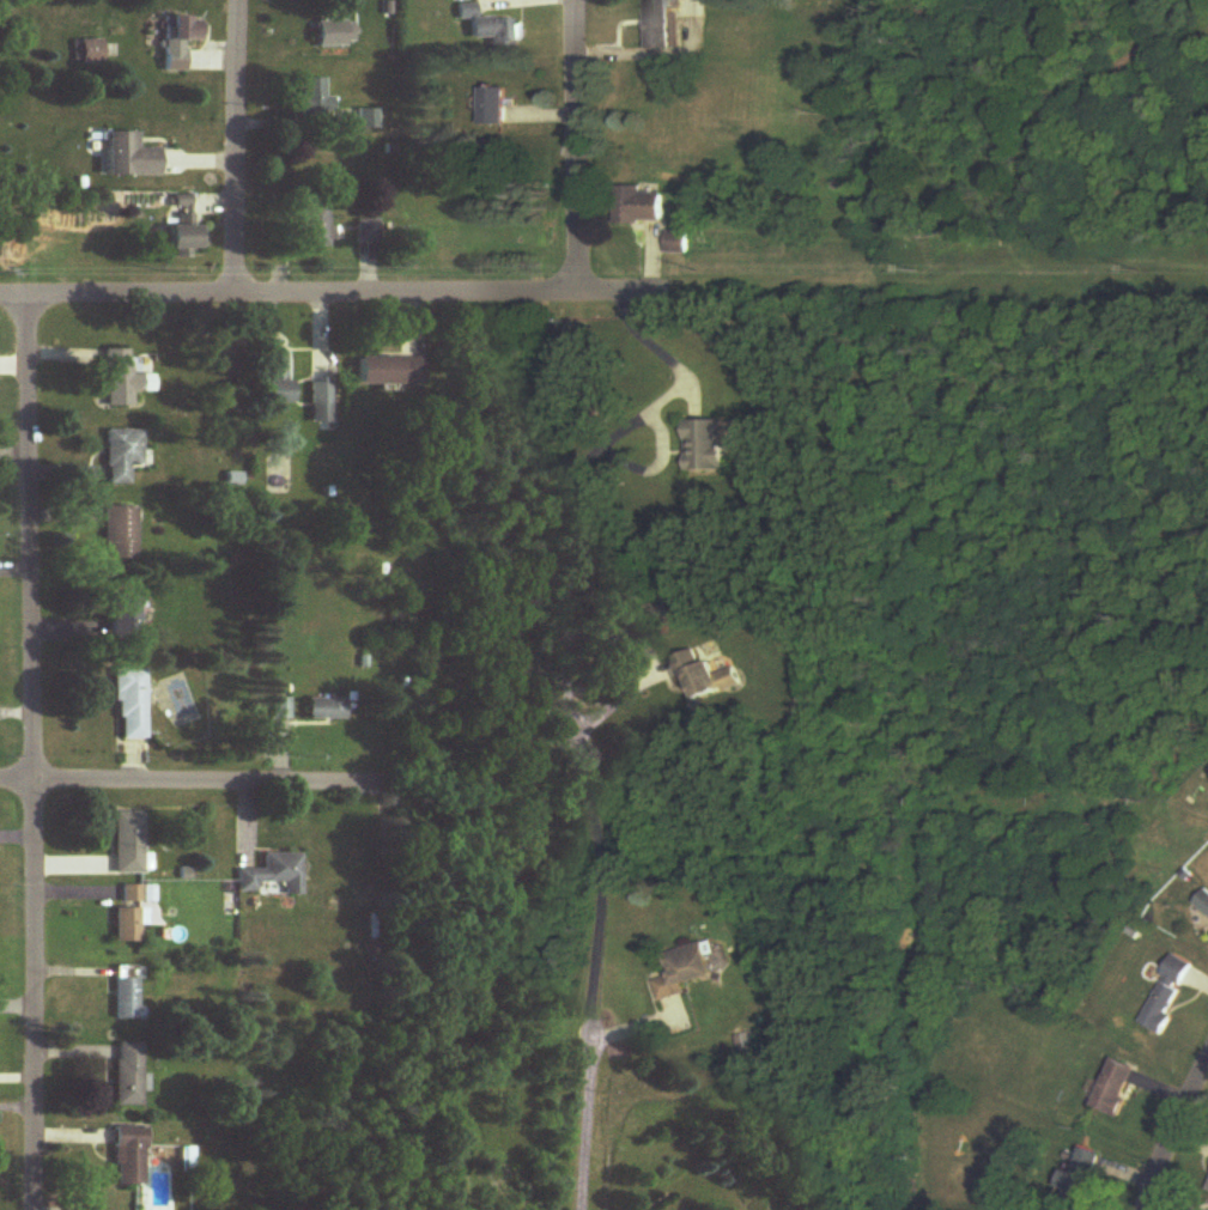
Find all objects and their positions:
building: (661, 25)
building: (487, 28)
building: (187, 30)
building: (336, 35)
building: (89, 51)
building: (176, 61)
building: (315, 99)
building: (496, 107)
building: (368, 120)
road: (235, 146)
road: (576, 147)
building: (130, 156)
building: (641, 206)
building: (315, 225)
building: (186, 229)
building: (675, 243)
road: (329, 292)
road: (652, 343)
building: (390, 371)
building: (123, 377)
building: (277, 377)
building: (321, 403)
building: (706, 445)
building: (123, 455)
building: (120, 534)
building: (123, 616)
building: (706, 677)
building: (129, 705)
building: (328, 710)
road: (582, 738)
road: (31, 752)
road: (138, 782)
road: (329, 784)
building: (127, 843)
building: (274, 874)
building: (1203, 901)
building: (126, 924)
building: (687, 971)
building: (1178, 971)
building: (125, 992)
building: (1158, 1013)
road: (594, 1021)
building: (127, 1075)
building: (1116, 1088)
road: (1170, 1132)
building: (128, 1156)
building: (1081, 1178)
building: (1202, 1209)

